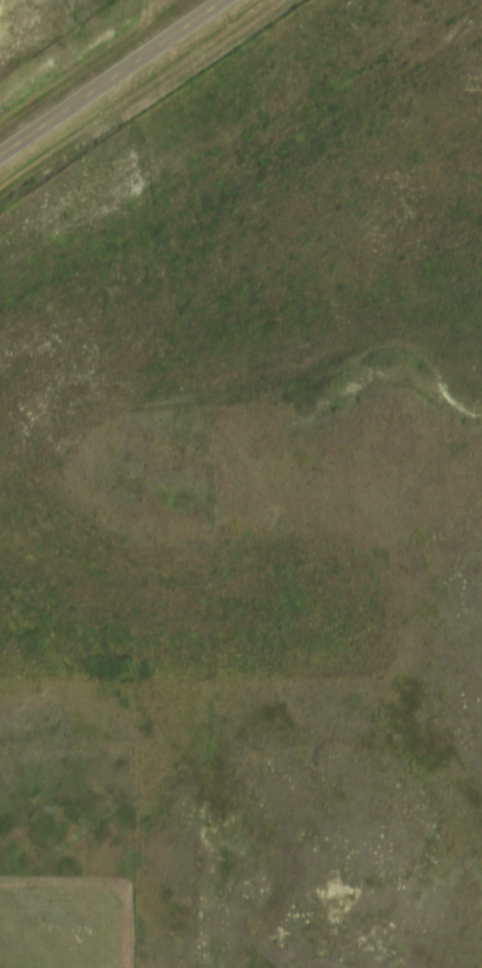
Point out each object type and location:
road: (111, 77)
park: (66, 922)

